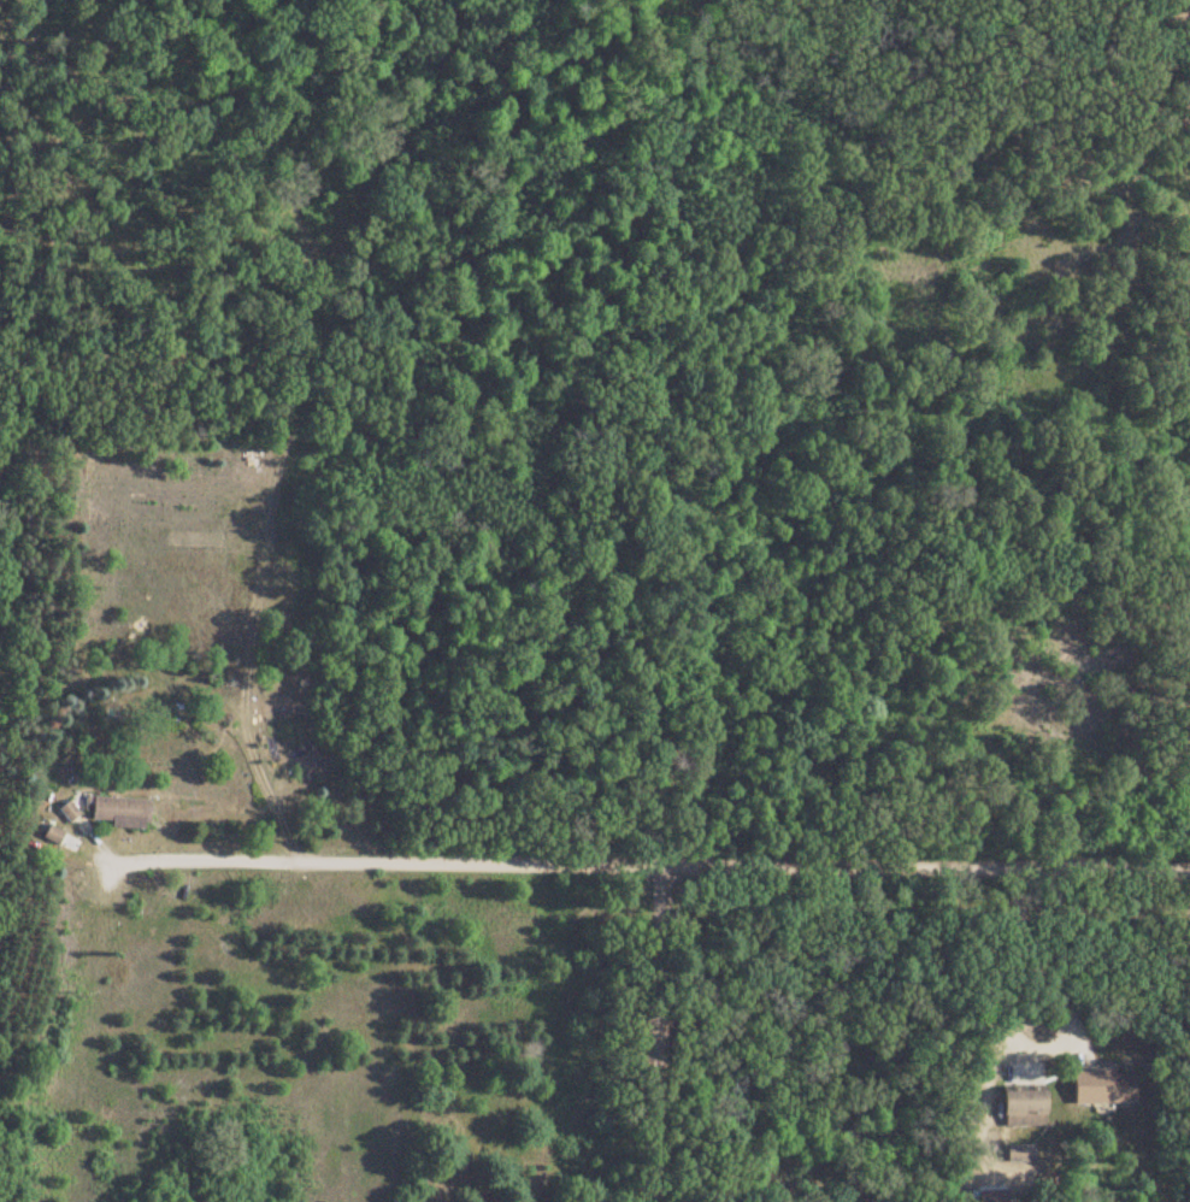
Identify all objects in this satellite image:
building: (119, 812)
road: (643, 837)
road: (518, 1018)
road: (637, 1019)
road: (1009, 1035)
building: (1100, 1088)

